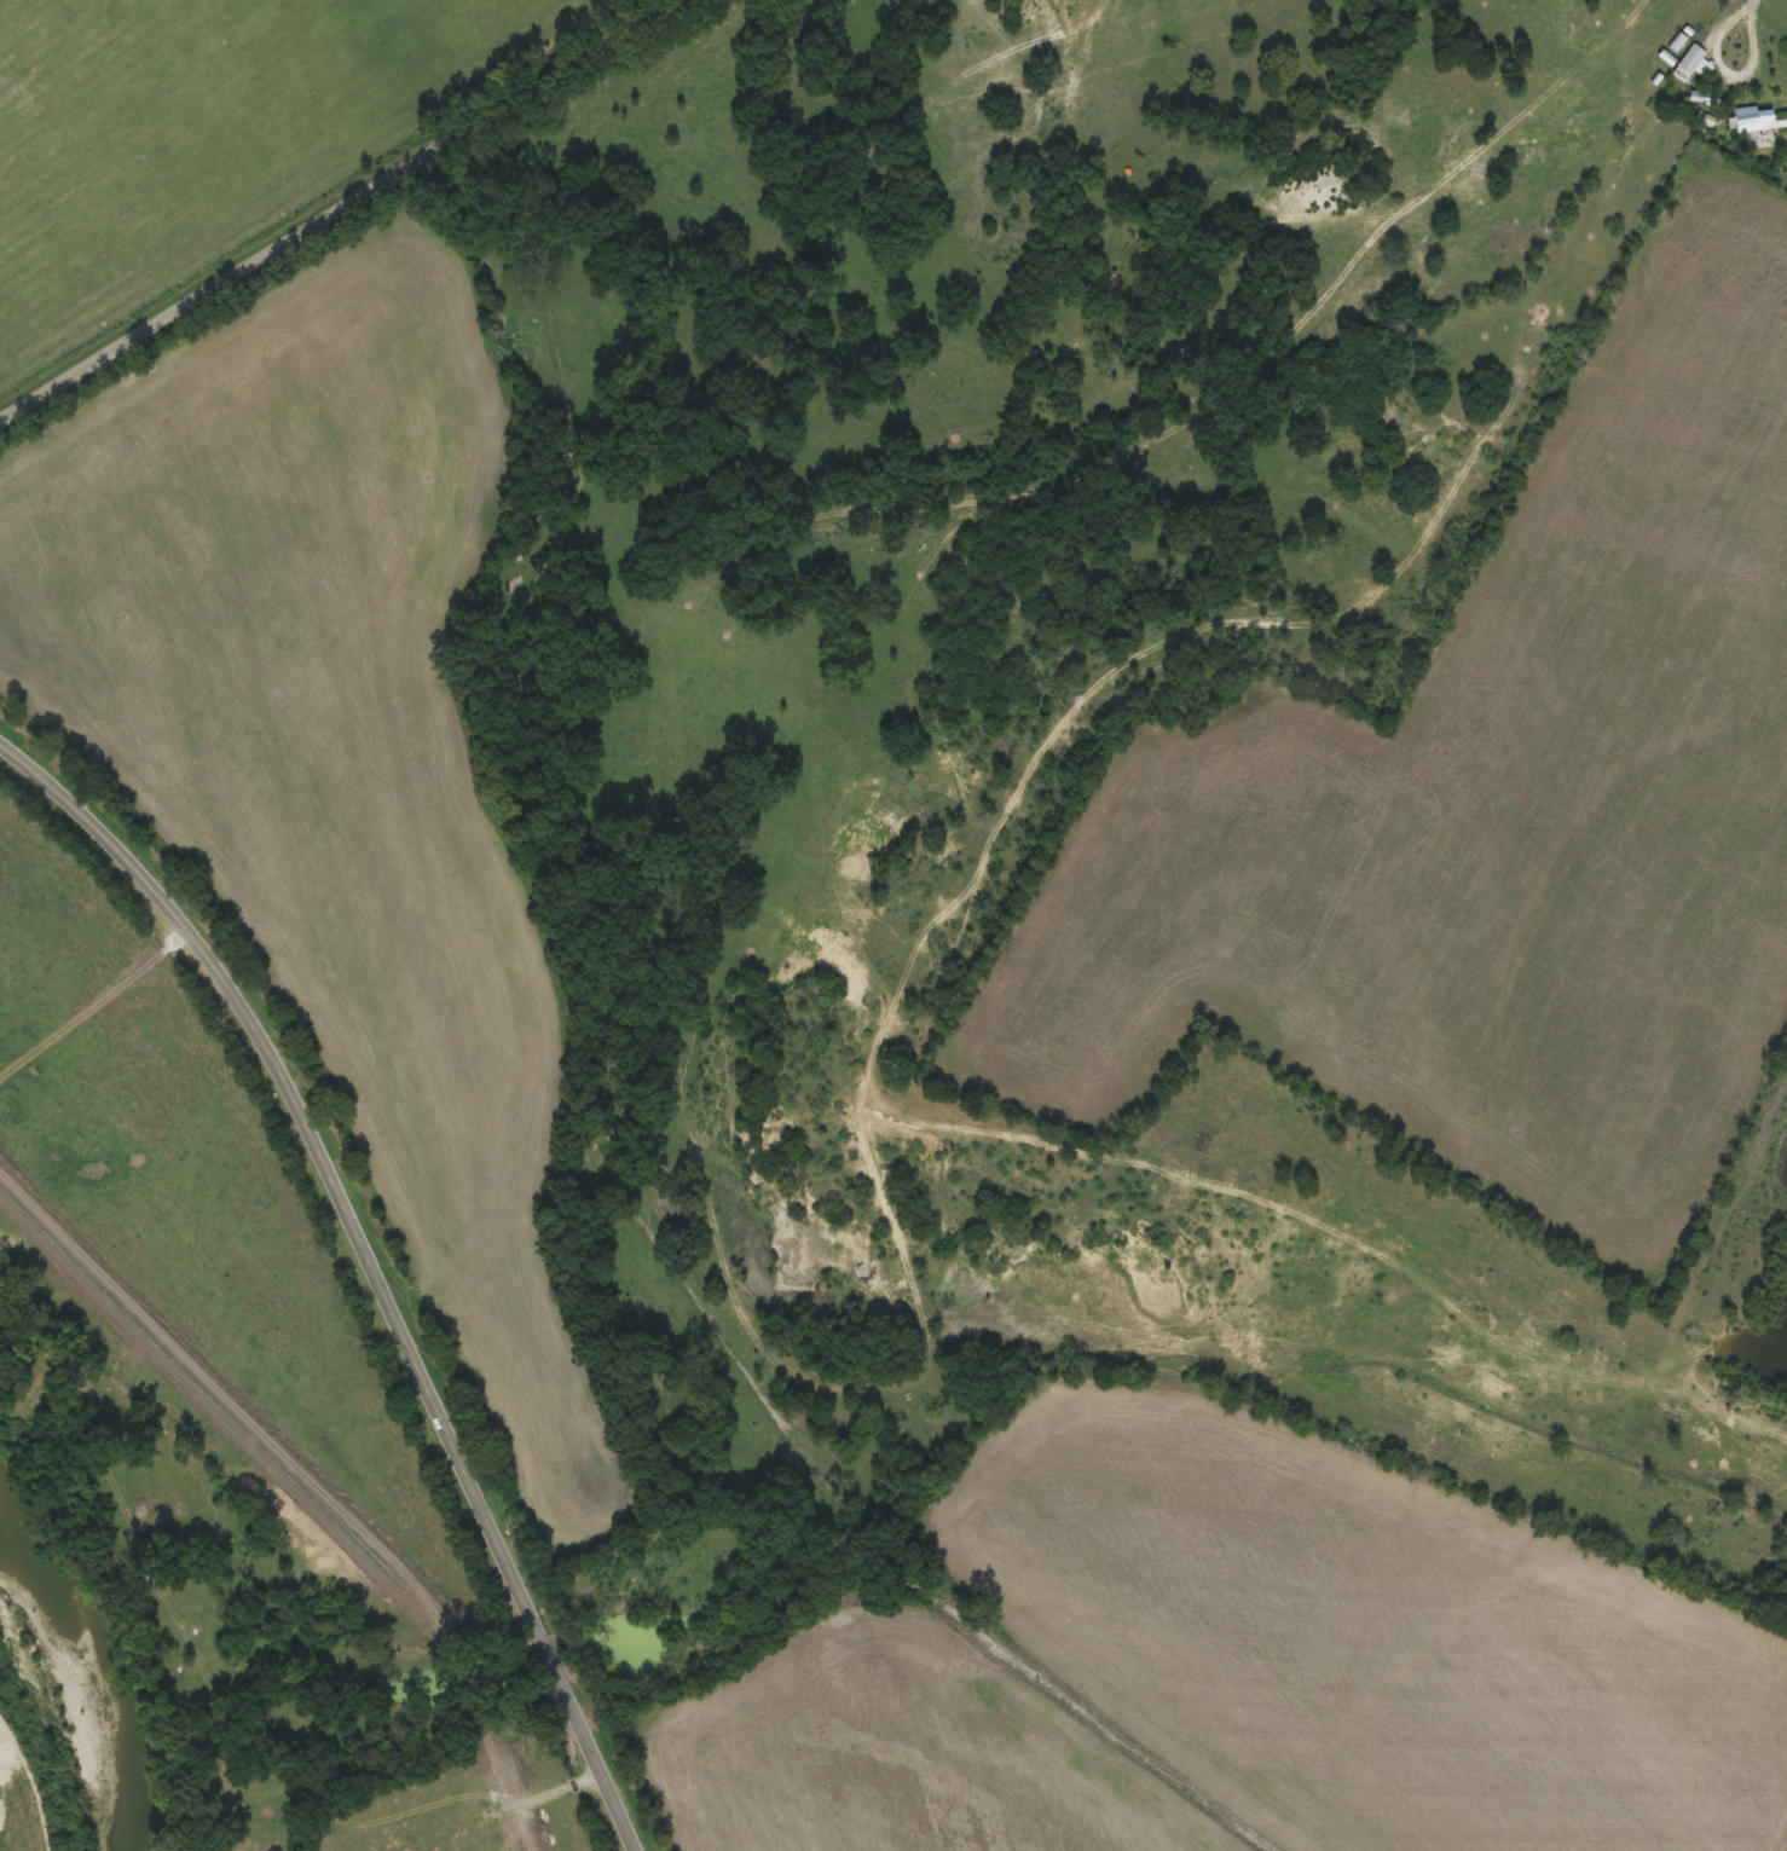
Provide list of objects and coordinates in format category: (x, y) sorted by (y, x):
building: (1685, 62)
building: (1752, 118)
road: (342, 210)
road: (370, 1263)
river: (110, 1681)

